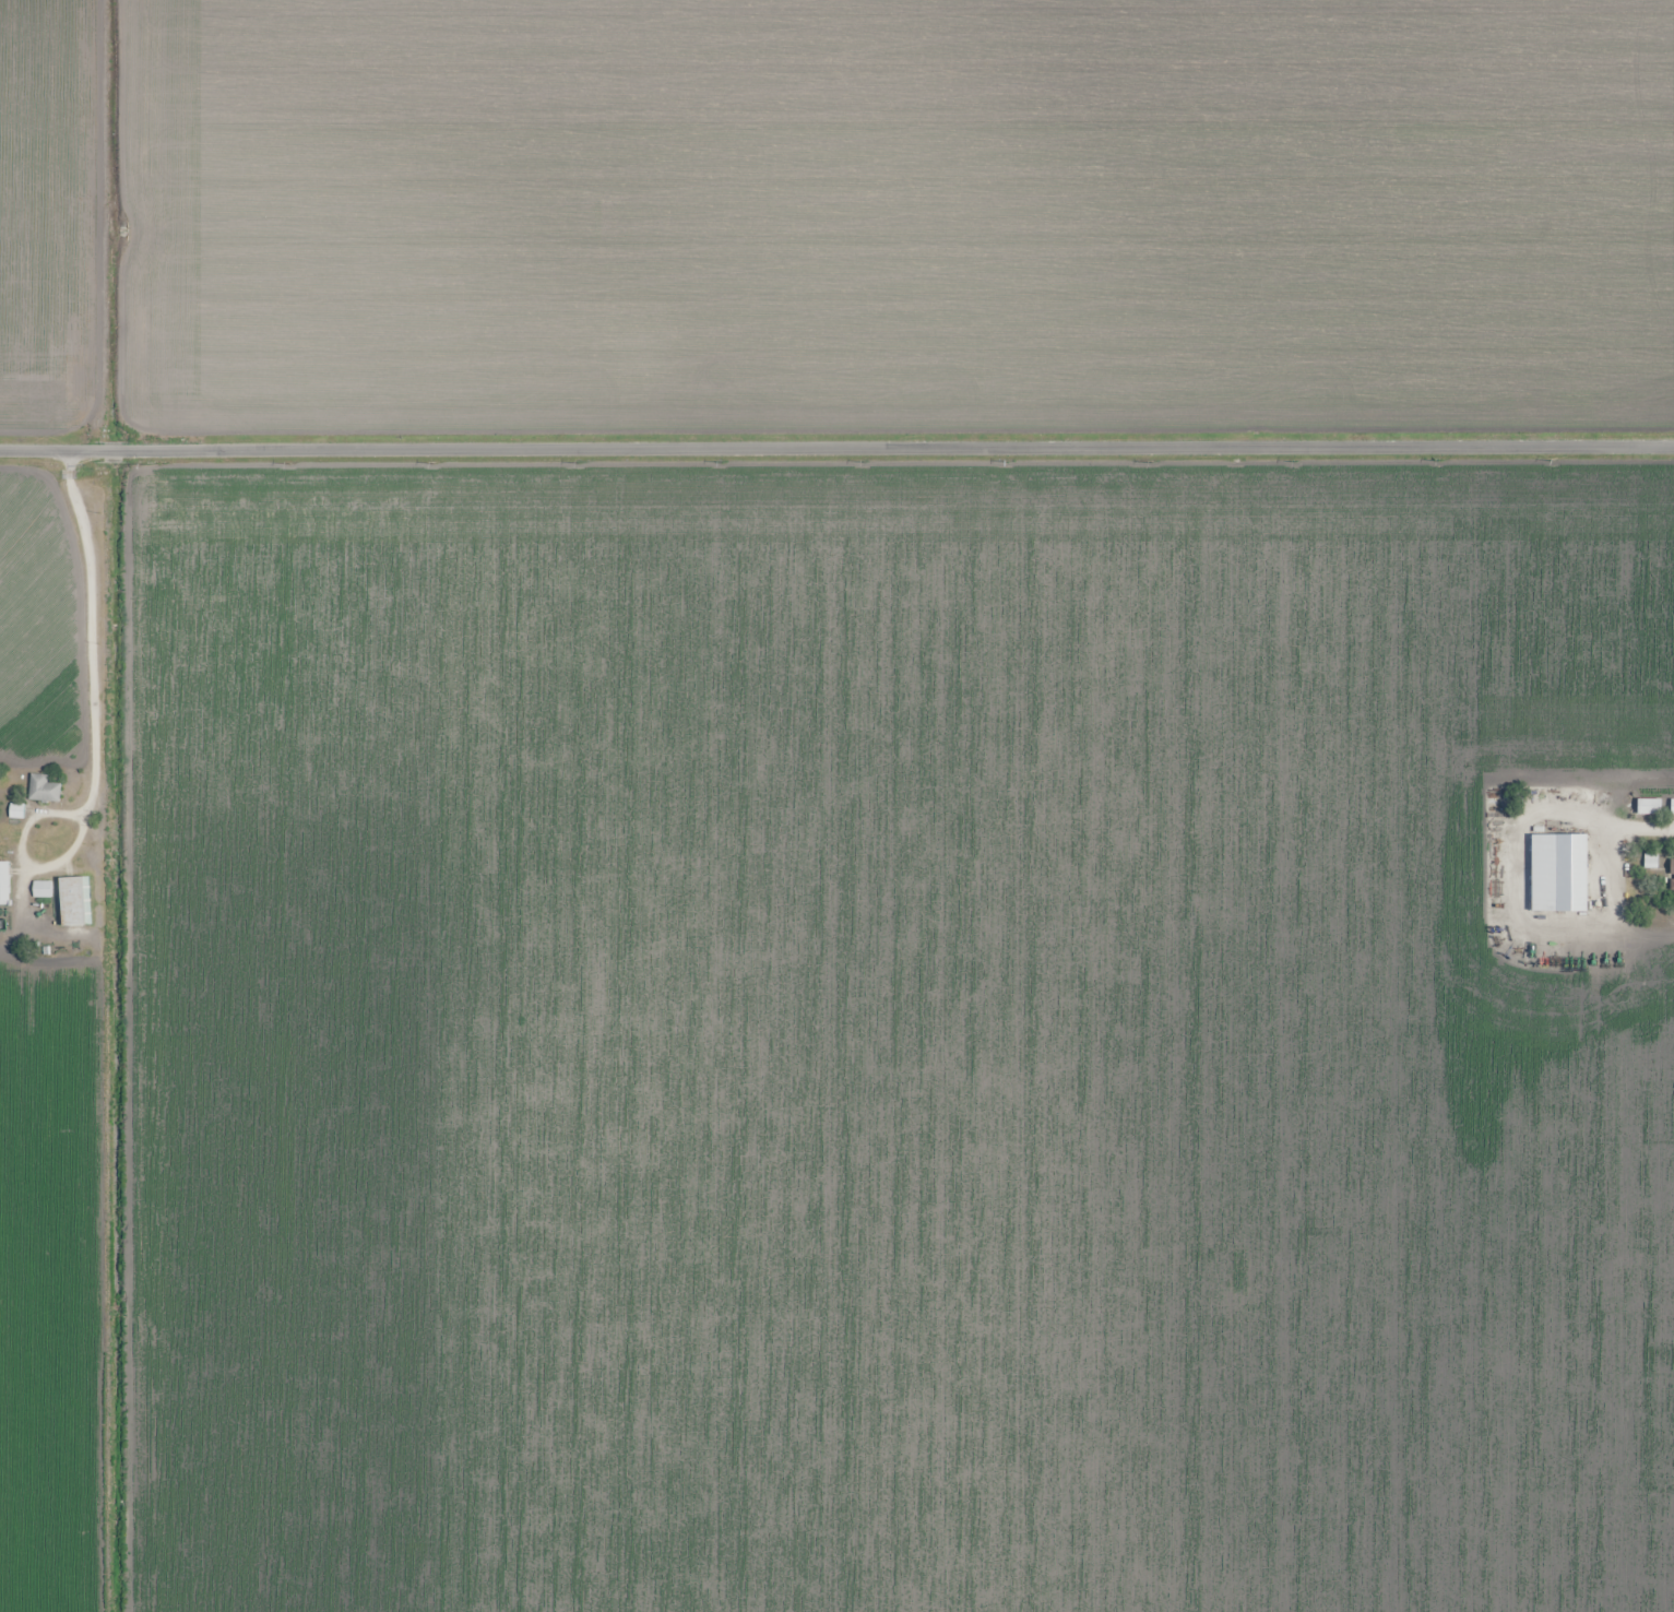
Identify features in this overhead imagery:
road: (836, 452)
building: (45, 790)
building: (1650, 807)
building: (1673, 807)
building: (16, 813)
building: (1559, 874)
building: (1672, 875)
building: (4, 884)
building: (41, 890)
building: (74, 902)

